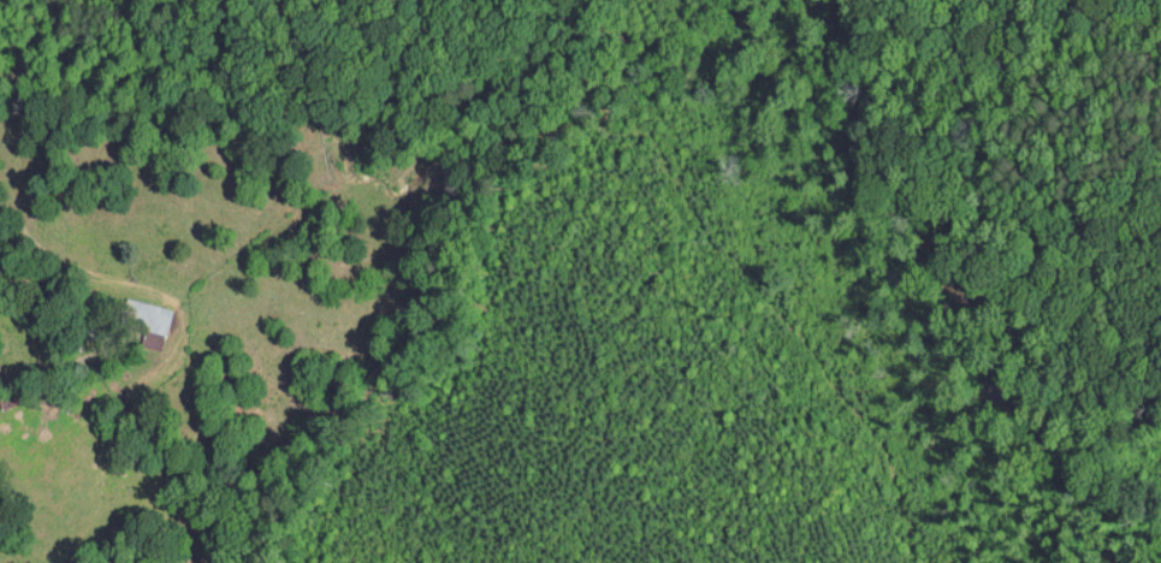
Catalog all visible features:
building: (131, 310)

